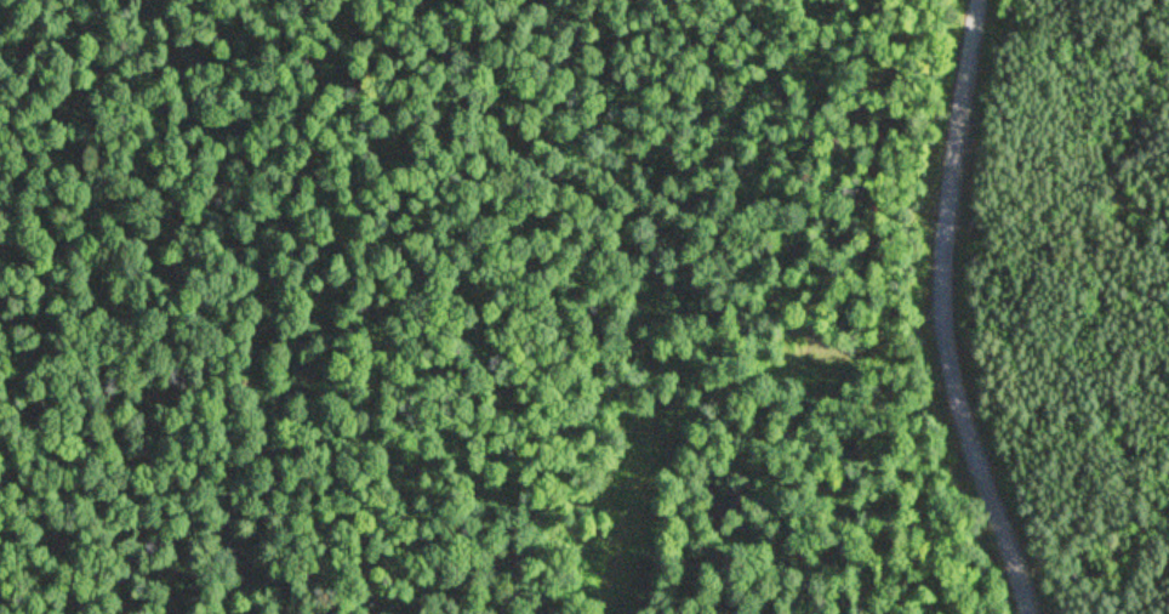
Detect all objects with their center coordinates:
road: (945, 311)

